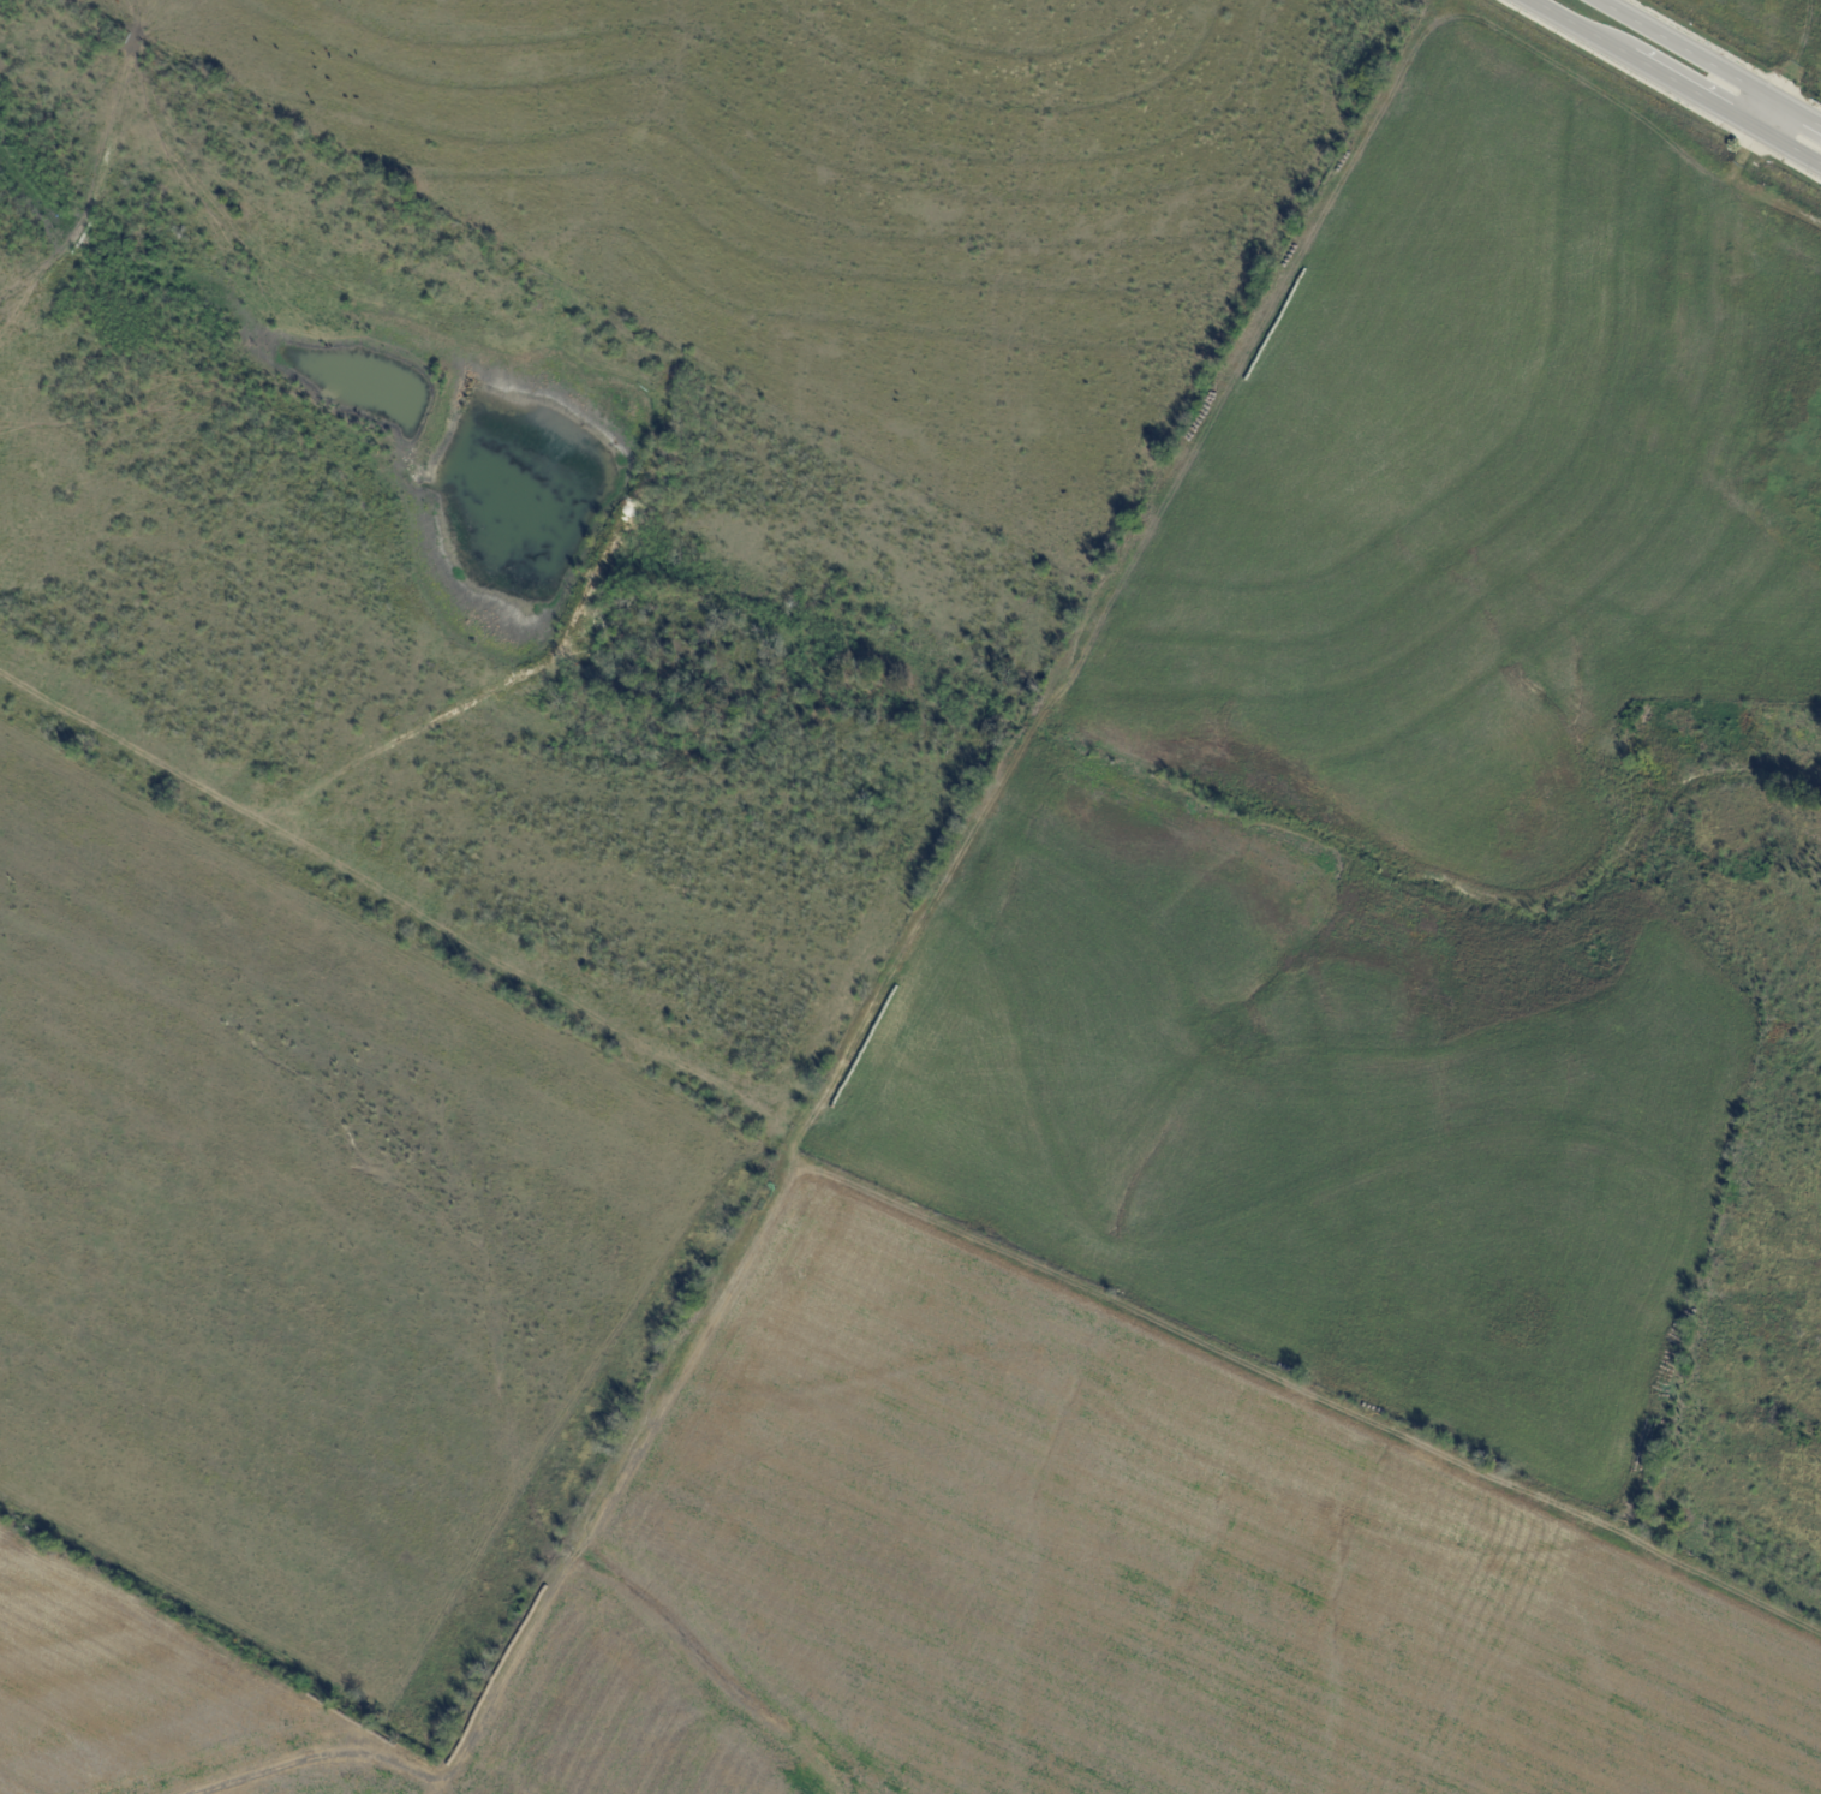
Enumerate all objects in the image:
road: (1710, 61)
road: (1676, 81)
road: (1762, 109)

